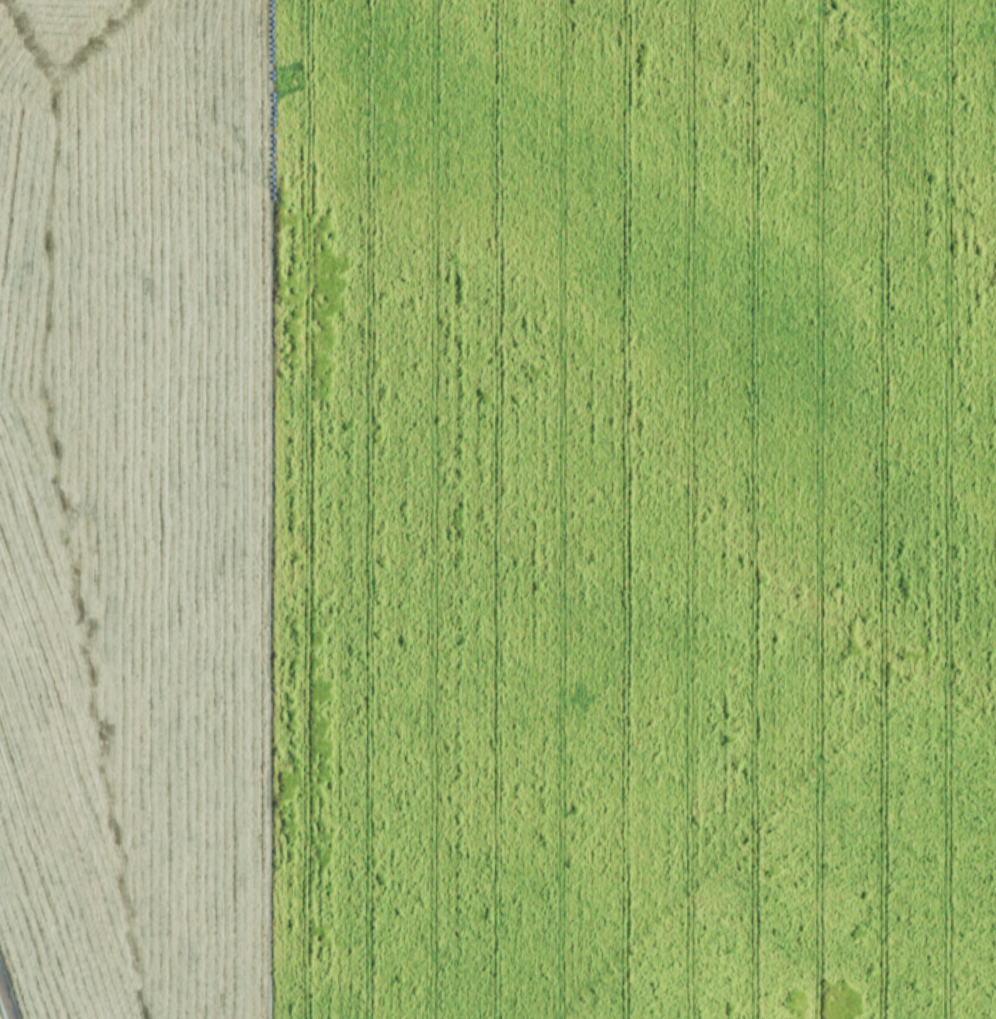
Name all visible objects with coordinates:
crop: (498, 509)

